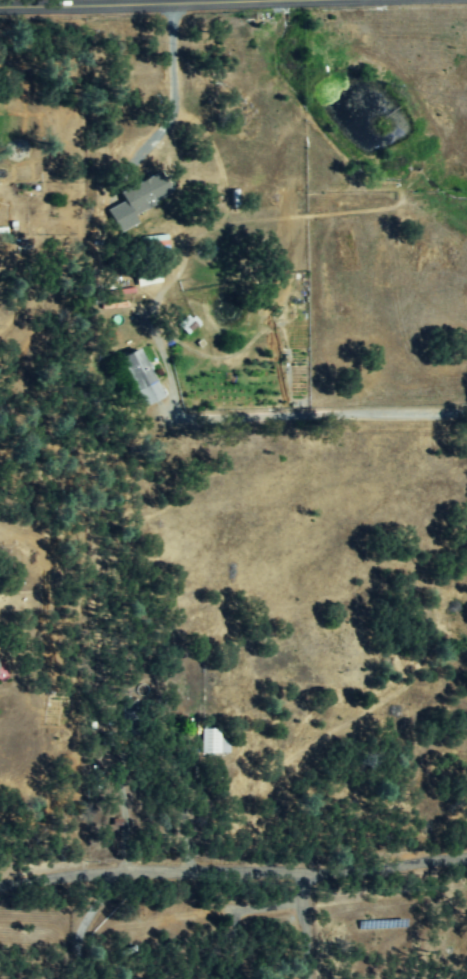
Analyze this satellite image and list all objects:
road: (108, 2)
road: (171, 85)
building: (146, 192)
building: (144, 378)
road: (293, 414)
building: (0, 668)
building: (135, 717)
building: (214, 741)
road: (233, 873)
road: (82, 925)
road: (302, 925)

